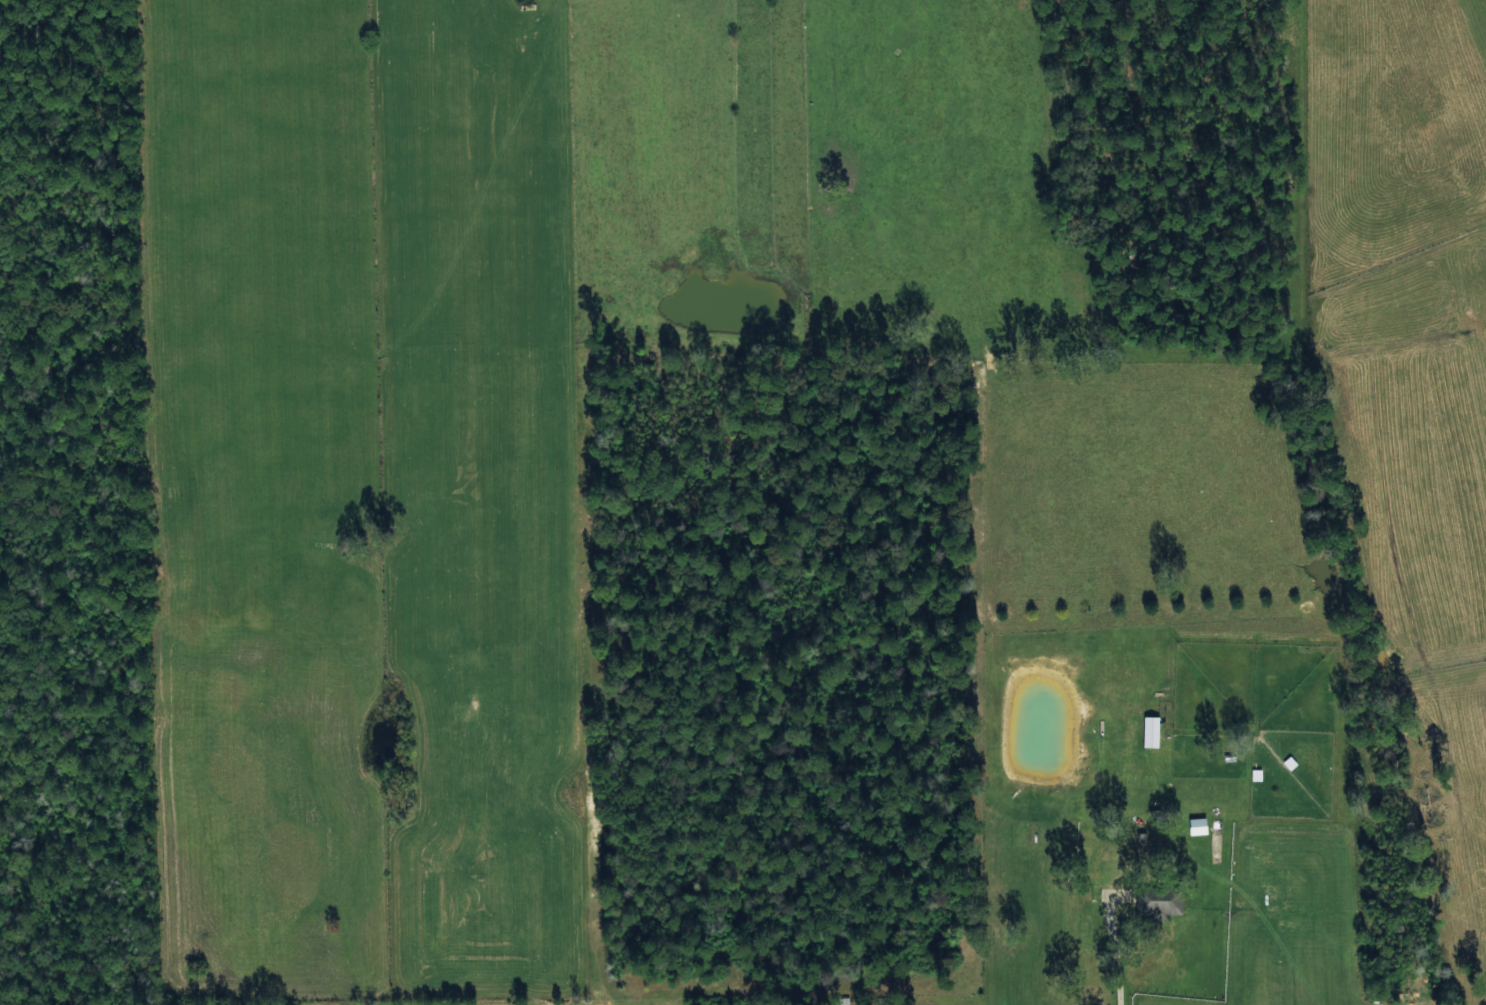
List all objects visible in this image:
building: (1150, 731)
building: (1197, 825)

